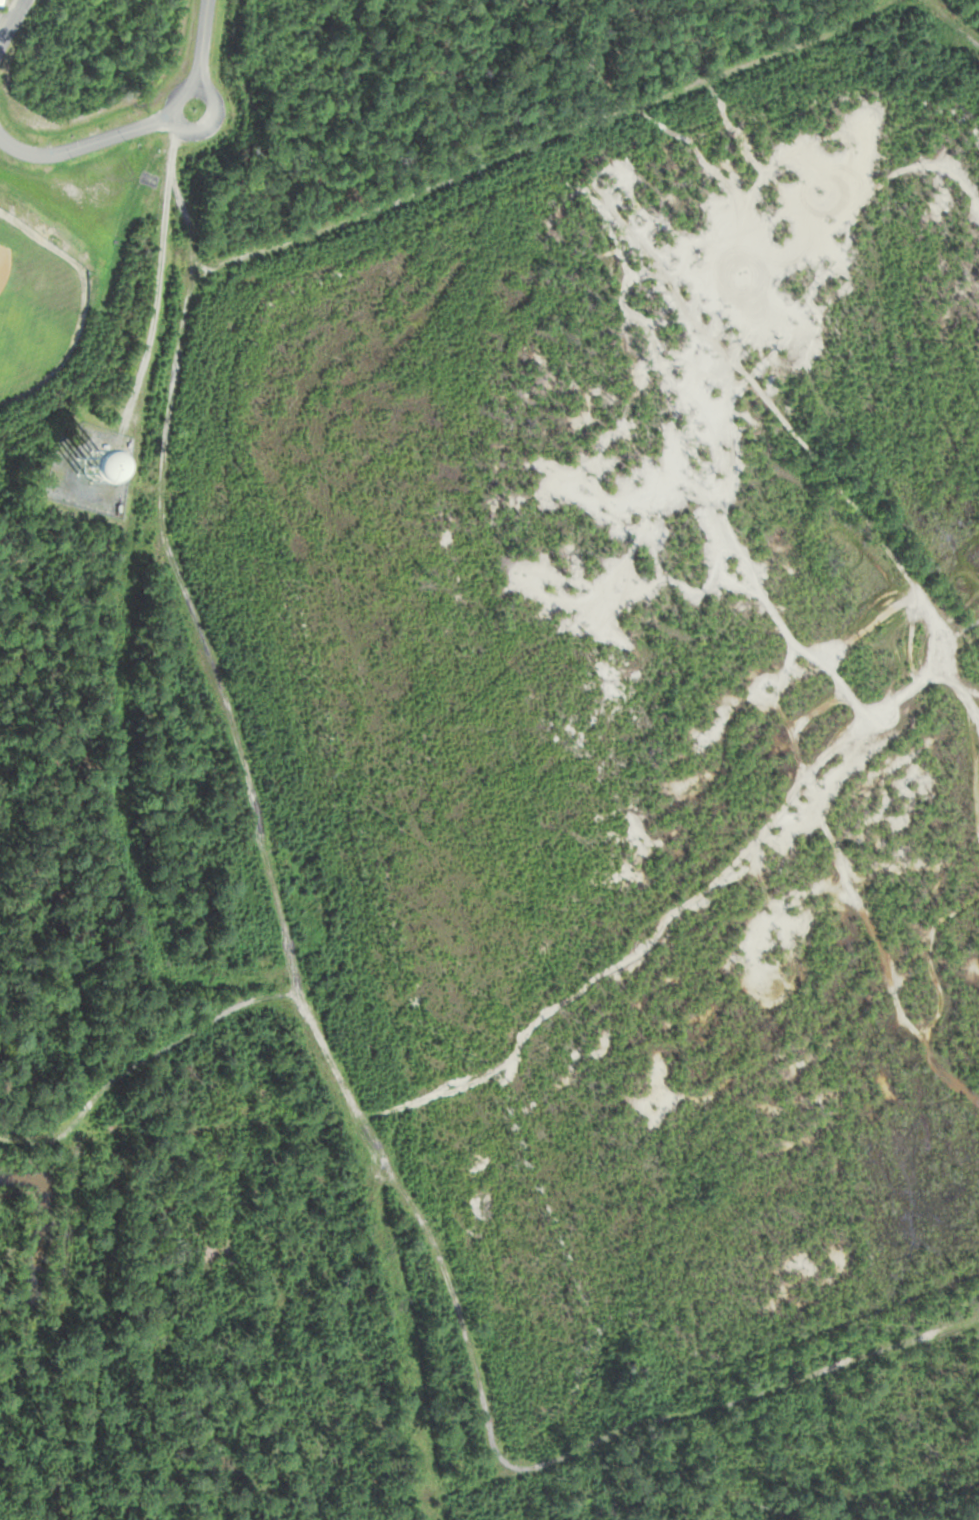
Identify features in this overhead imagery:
road: (12, 20)
road: (5, 22)
road: (201, 45)
road: (174, 111)
road: (85, 143)
park: (36, 306)
water tower: (92, 466)

